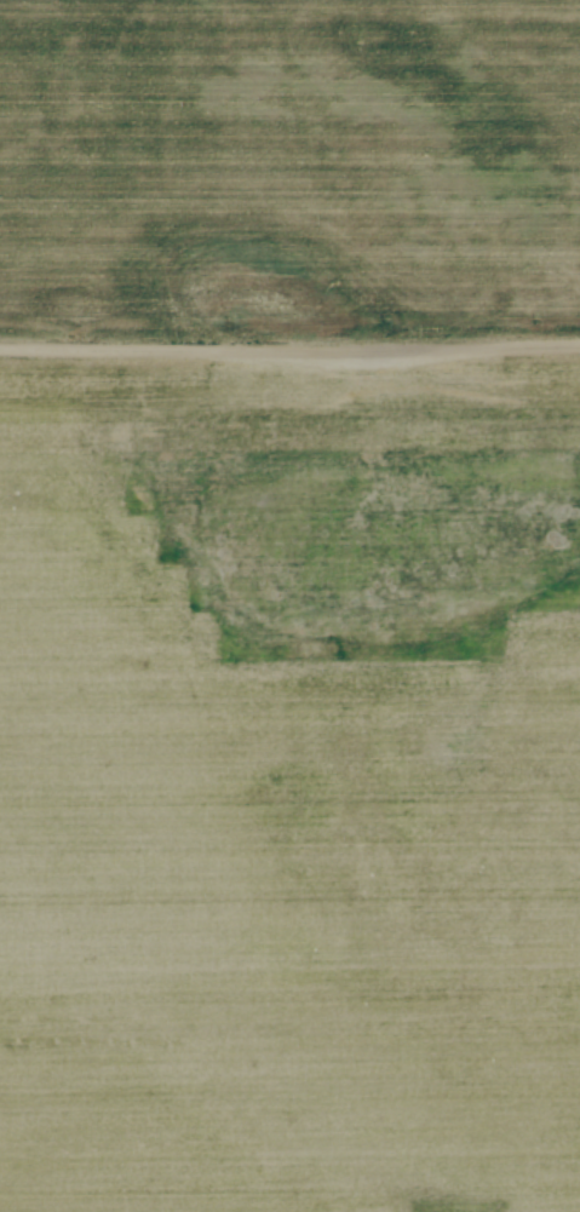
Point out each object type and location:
road: (289, 351)
crop: (289, 782)

